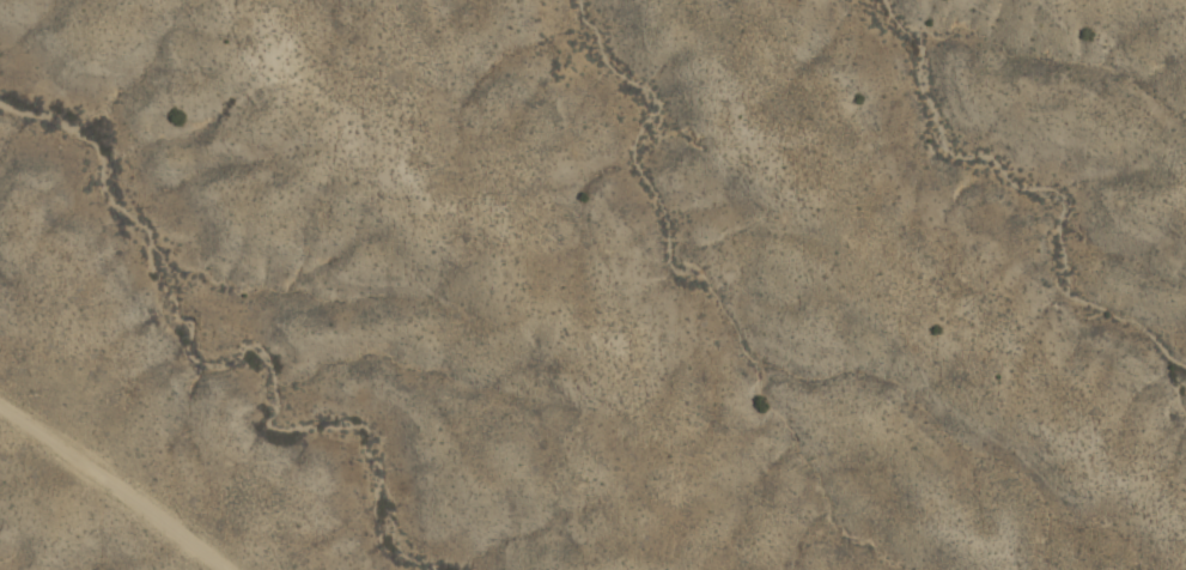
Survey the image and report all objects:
road: (116, 485)

